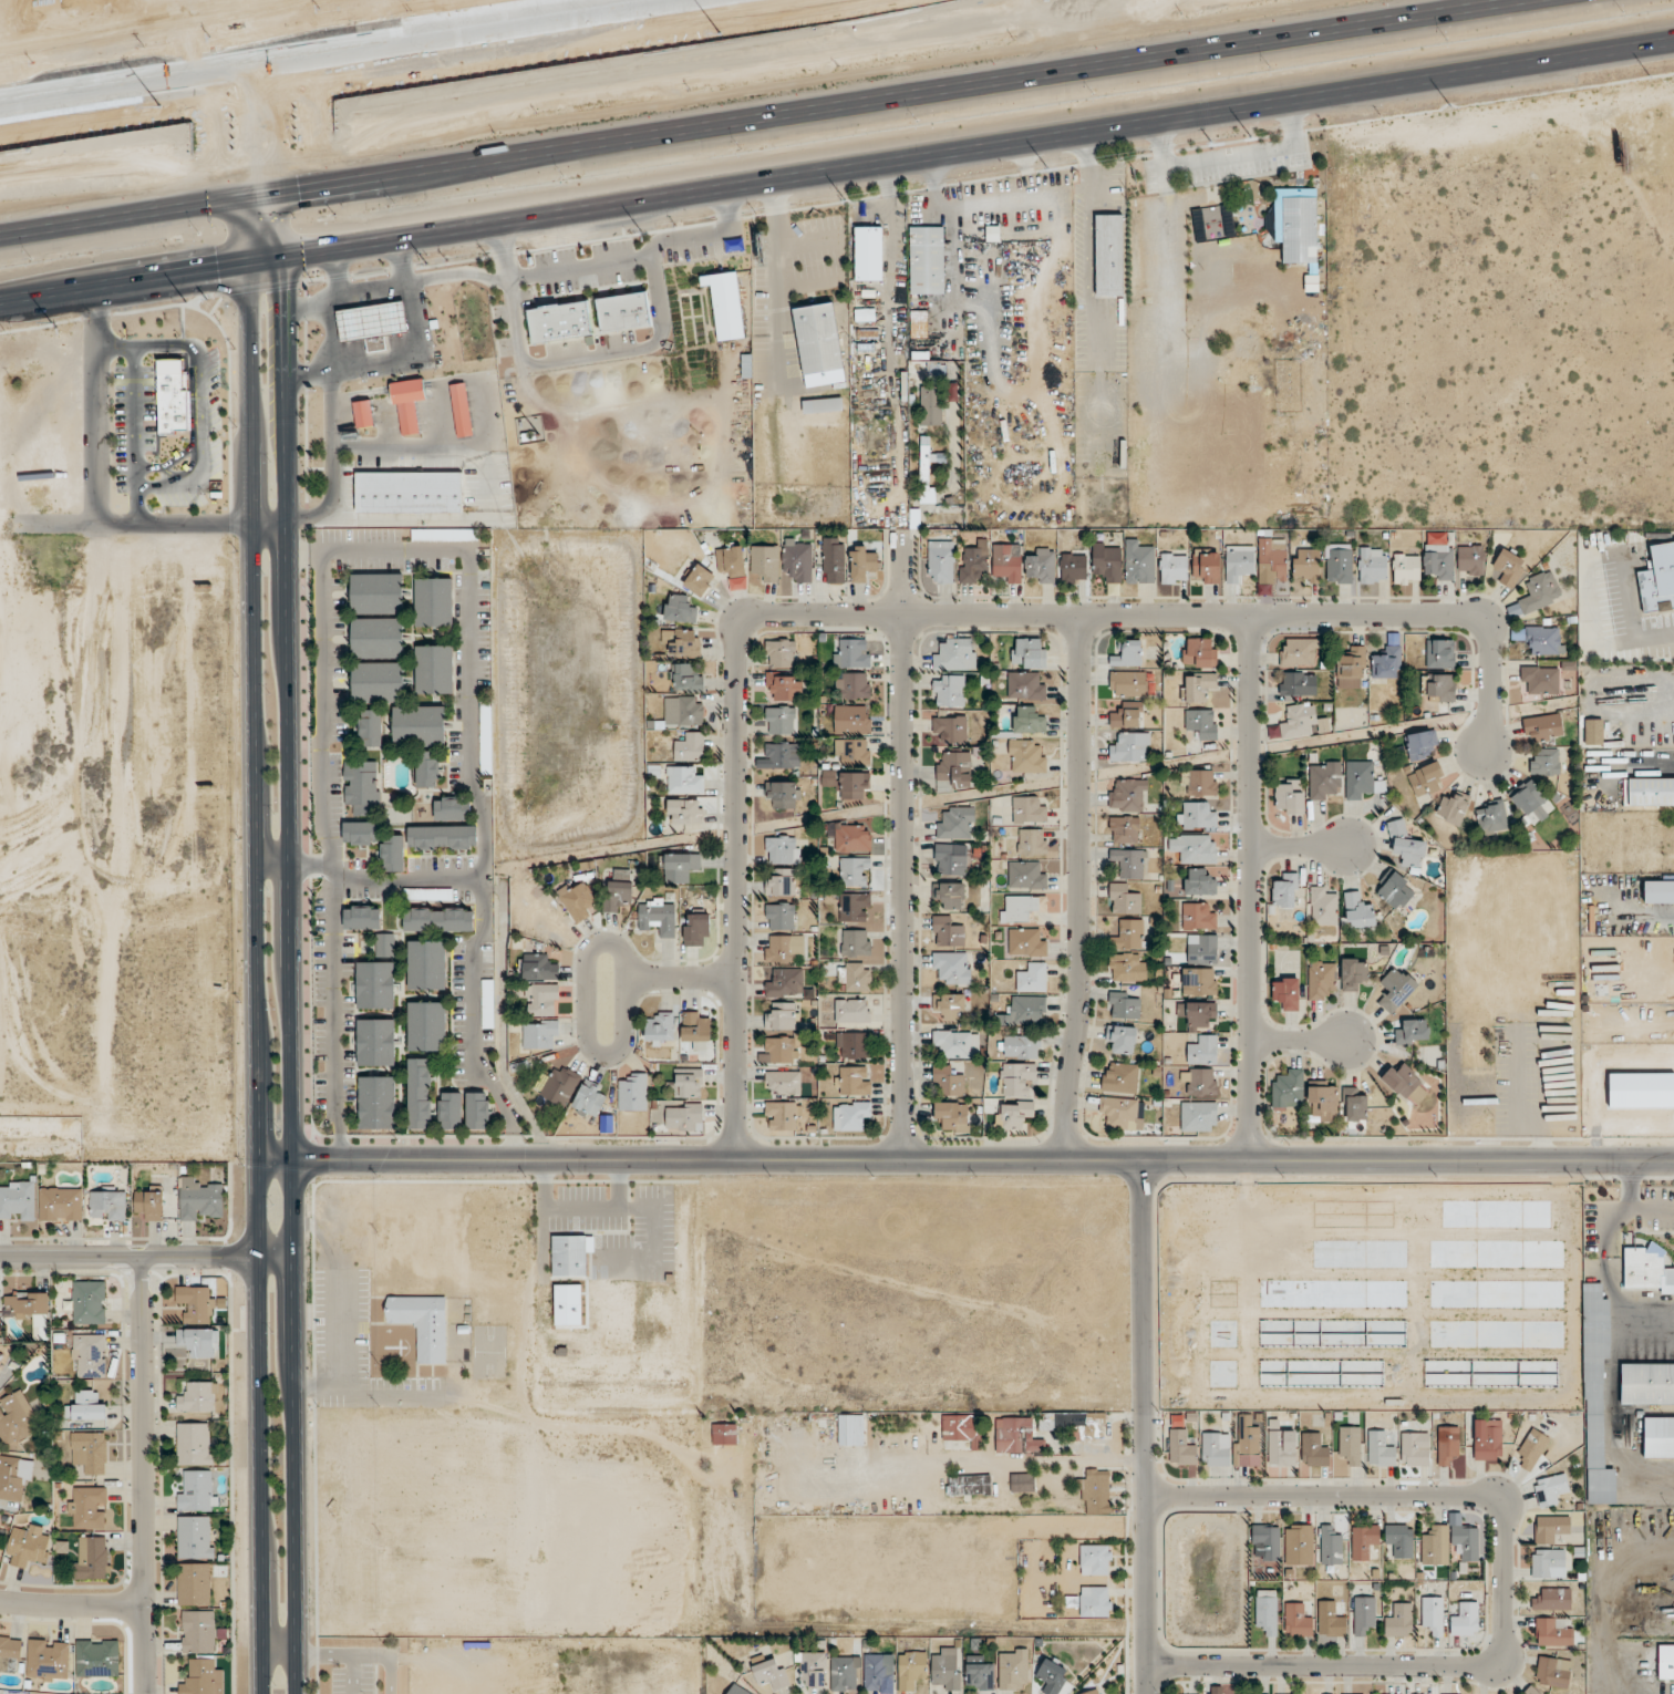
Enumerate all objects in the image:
road: (282, 29)
road: (248, 31)
road: (339, 50)
road: (861, 82)
road: (1004, 147)
road: (1233, 158)
road: (258, 176)
road: (95, 202)
building: (1296, 224)
road: (705, 235)
building: (866, 252)
building: (1107, 255)
road: (839, 257)
building: (924, 259)
road: (578, 267)
traffic signals: (213, 269)
building: (1238, 271)
road: (338, 273)
road: (167, 276)
road: (457, 276)
road: (778, 288)
road: (372, 290)
road: (509, 300)
building: (723, 304)
building: (620, 312)
gas station: (369, 321)
building: (556, 321)
building: (918, 323)
building: (371, 329)
building: (816, 344)
road: (166, 348)
road: (633, 349)
road: (410, 357)
building: (952, 382)
road: (381, 394)
road: (435, 394)
building: (174, 396)
building: (405, 402)
building: (819, 405)
building: (931, 405)
road: (96, 406)
road: (329, 407)
building: (458, 410)
building: (360, 413)
road: (135, 416)
building: (525, 436)
road: (192, 442)
road: (405, 447)
road: (167, 464)
building: (927, 472)
building: (406, 493)
road: (457, 519)
road: (266, 521)
road: (128, 524)
road: (374, 549)
building: (1437, 557)
building: (797, 559)
building: (1107, 560)
building: (1470, 560)
building: (765, 561)
building: (940, 561)
building: (973, 561)
building: (862, 562)
building: (1008, 562)
building: (1138, 562)
building: (1238, 562)
building: (1271, 562)
building: (833, 564)
building: (732, 565)
building: (1306, 565)
building: (1372, 565)
building: (1041, 566)
building: (1206, 566)
building: (1339, 566)
building: (1508, 566)
building: (1073, 567)
building: (1174, 568)
building: (1406, 568)
building: (1657, 579)
building: (699, 580)
building: (1539, 591)
building: (378, 592)
building: (434, 601)
building: (679, 609)
road: (251, 610)
road: (912, 616)
building: (378, 638)
building: (1543, 640)
building: (682, 642)
building: (1030, 651)
building: (1299, 651)
building: (779, 652)
building: (851, 652)
building: (1199, 652)
building: (1128, 653)
building: (1440, 653)
building: (955, 654)
building: (1351, 662)
building: (1387, 662)
building: (434, 669)
building: (686, 676)
building: (1540, 680)
building: (378, 682)
building: (1128, 683)
building: (1298, 683)
building: (852, 684)
building: (1026, 685)
building: (1199, 685)
building: (784, 686)
building: (1440, 686)
building: (949, 690)
road: (323, 709)
building: (683, 710)
building: (1128, 715)
road: (467, 716)
building: (852, 719)
building: (781, 720)
building: (1027, 720)
building: (1304, 722)
building: (1202, 723)
building: (418, 725)
building: (371, 727)
building: (1543, 727)
building: (950, 729)
building: (486, 737)
building: (1422, 744)
building: (690, 747)
building: (1130, 747)
building: (852, 751)
building: (779, 755)
building: (1025, 756)
building: (1544, 761)
building: (427, 768)
building: (953, 768)
building: (1323, 778)
building: (683, 779)
building: (1361, 779)
building: (1426, 779)
building: (1199, 782)
building: (361, 785)
building: (855, 785)
building: (1651, 791)
building: (783, 795)
building: (1128, 795)
building: (1288, 797)
building: (1531, 803)
building: (452, 808)
building: (1453, 808)
building: (1029, 809)
building: (685, 813)
building: (1197, 814)
building: (1491, 817)
building: (957, 823)
building: (1124, 828)
building: (360, 833)
building: (442, 837)
building: (852, 838)
building: (1031, 841)
road: (903, 845)
building: (1405, 845)
building: (1193, 847)
road: (1299, 847)
building: (782, 849)
building: (392, 854)
building: (950, 858)
building: (1129, 861)
road: (270, 865)
road: (308, 866)
building: (680, 867)
building: (854, 871)
building: (1026, 874)
road: (287, 876)
road: (399, 879)
building: (782, 881)
building: (1198, 881)
road: (1081, 889)
road: (1251, 889)
building: (619, 890)
building: (1285, 891)
building: (1396, 891)
building: (1658, 891)
building: (427, 894)
building: (949, 895)
building: (1124, 898)
building: (577, 900)
building: (1322, 906)
building: (854, 907)
building: (1020, 907)
building: (1357, 910)
building: (658, 915)
building: (779, 916)
building: (1199, 916)
building: (362, 917)
building: (438, 919)
building: (696, 928)
building: (947, 931)
building: (1128, 934)
building: (855, 942)
building: (1026, 942)
building: (384, 944)
building: (783, 948)
building: (1203, 950)
building: (426, 964)
building: (539, 967)
building: (952, 967)
building: (1127, 967)
building: (1352, 972)
building: (854, 977)
building: (1032, 978)
road: (680, 979)
building: (1321, 979)
building: (1199, 981)
building: (785, 983)
building: (375, 984)
building: (1395, 989)
building: (1285, 992)
building: (542, 999)
building: (487, 1003)
building: (1124, 1004)
building: (949, 1006)
building: (851, 1010)
building: (1023, 1012)
building: (1200, 1013)
road: (332, 1015)
building: (781, 1015)
road: (585, 1021)
building: (426, 1025)
road: (473, 1025)
building: (695, 1025)
building: (659, 1029)
building: (1413, 1032)
building: (540, 1033)
building: (1120, 1039)
building: (376, 1042)
road: (1301, 1042)
building: (957, 1043)
building: (1475, 1044)
building: (852, 1045)
building: (1021, 1046)
building: (781, 1050)
building: (1202, 1050)
building: (1119, 1077)
building: (854, 1080)
building: (948, 1080)
building: (1017, 1080)
building: (1402, 1081)
building: (783, 1082)
building: (1200, 1082)
building: (688, 1083)
building: (559, 1085)
building: (1288, 1088)
building: (633, 1092)
building: (418, 1093)
building: (589, 1099)
building: (376, 1102)
building: (1322, 1102)
building: (1354, 1106)
building: (449, 1109)
building: (477, 1111)
building: (1122, 1112)
building: (1013, 1114)
building: (683, 1115)
building: (782, 1115)
building: (850, 1115)
building: (952, 1115)
building: (1198, 1115)
road: (965, 1160)
building: (17, 1199)
building: (199, 1200)
building: (60, 1204)
building: (149, 1204)
building: (106, 1205)
building: (569, 1256)
road: (146, 1259)
building: (1647, 1268)
building: (89, 1302)
building: (196, 1303)
building: (25, 1304)
building: (422, 1324)
building: (197, 1342)
road: (339, 1351)
building: (89, 1355)
building: (1647, 1383)
building: (197, 1396)
building: (1595, 1397)
road: (390, 1398)
building: (86, 1406)
building: (15, 1419)
building: (1075, 1424)
road: (259, 1426)
building: (958, 1427)
road: (1146, 1427)
building: (849, 1429)
building: (724, 1434)
building: (1016, 1436)
building: (1658, 1437)
building: (1487, 1439)
building: (1350, 1443)
building: (195, 1444)
building: (1448, 1445)
building: (1247, 1446)
building: (1181, 1447)
building: (1281, 1447)
building: (1216, 1448)
building: (1414, 1448)
building: (1313, 1449)
building: (1379, 1449)
building: (1531, 1449)
building: (89, 1452)
road: (970, 1460)
road: (145, 1476)
building: (14, 1478)
building: (1022, 1483)
building: (969, 1485)
building: (197, 1489)
building: (1550, 1489)
building: (1095, 1490)
building: (87, 1507)
building: (1550, 1528)
building: (195, 1537)
building: (1399, 1539)
building: (1364, 1540)
building: (1265, 1541)
building: (1466, 1541)
building: (28, 1545)
building: (1299, 1545)
building: (1330, 1546)
building: (1435, 1546)
building: (92, 1558)
building: (1095, 1559)
building: (1548, 1563)
road: (1505, 1582)
building: (195, 1583)
building: (1552, 1599)
building: (1096, 1601)
road: (72, 1604)
building: (1267, 1610)
building: (1363, 1613)
building: (1433, 1613)
building: (1330, 1619)
building: (1465, 1619)
building: (1296, 1620)
building: (1399, 1621)
building: (198, 1630)
building: (1552, 1632)
building: (10, 1653)
road: (278, 1654)
road: (342, 1654)
building: (96, 1657)
road: (386, 1657)
building: (48, 1660)
building: (1665, 1662)
building: (813, 1667)
building: (945, 1667)
building: (911, 1669)
building: (1013, 1669)
building: (877, 1671)
building: (1552, 1671)
building: (771, 1673)
building: (841, 1673)
building: (979, 1673)
building: (1052, 1676)
building: (203, 1677)
building: (737, 1690)
building: (1091, 1692)
building: (1255, 1693)

